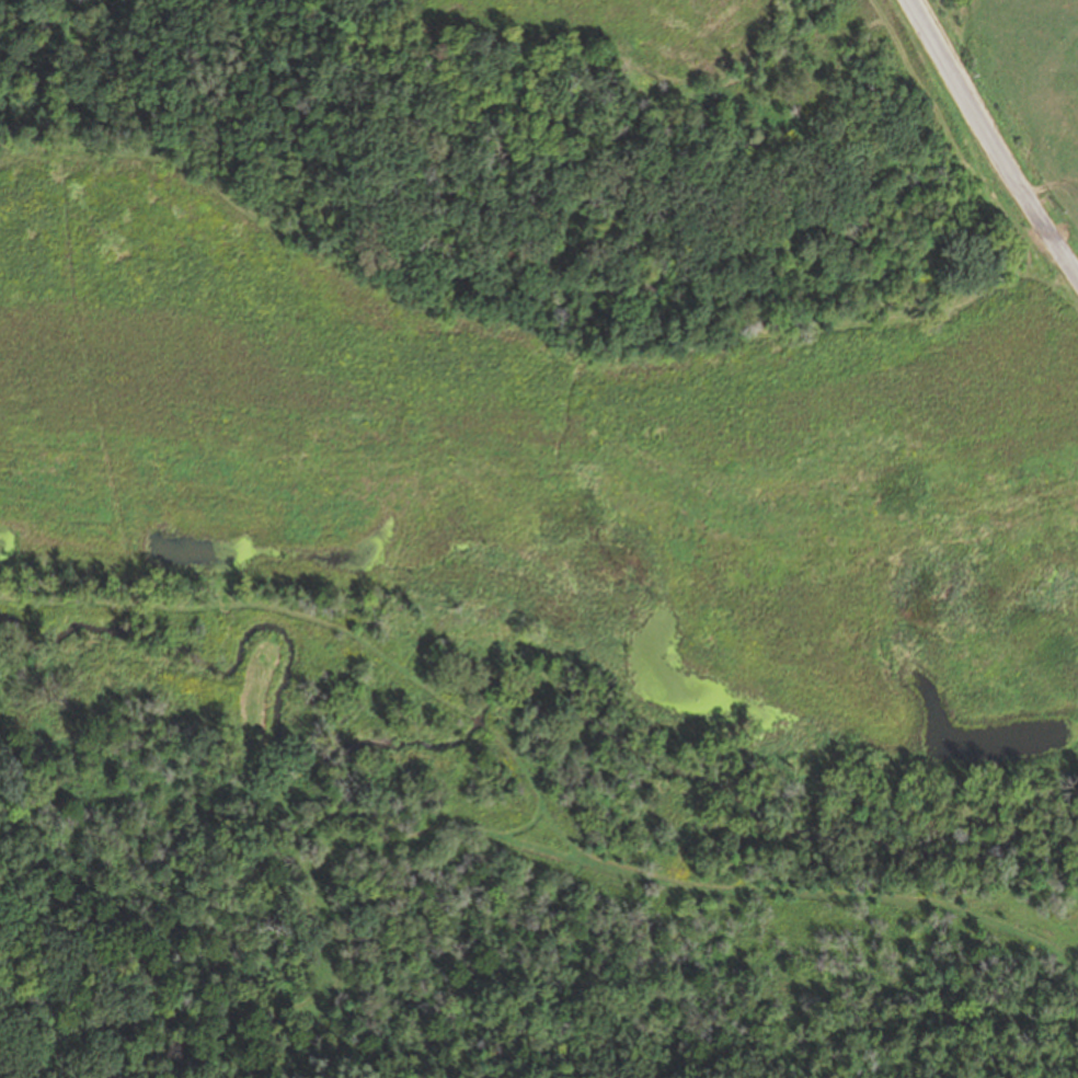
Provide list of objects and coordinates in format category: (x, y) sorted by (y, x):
road: (993, 137)

